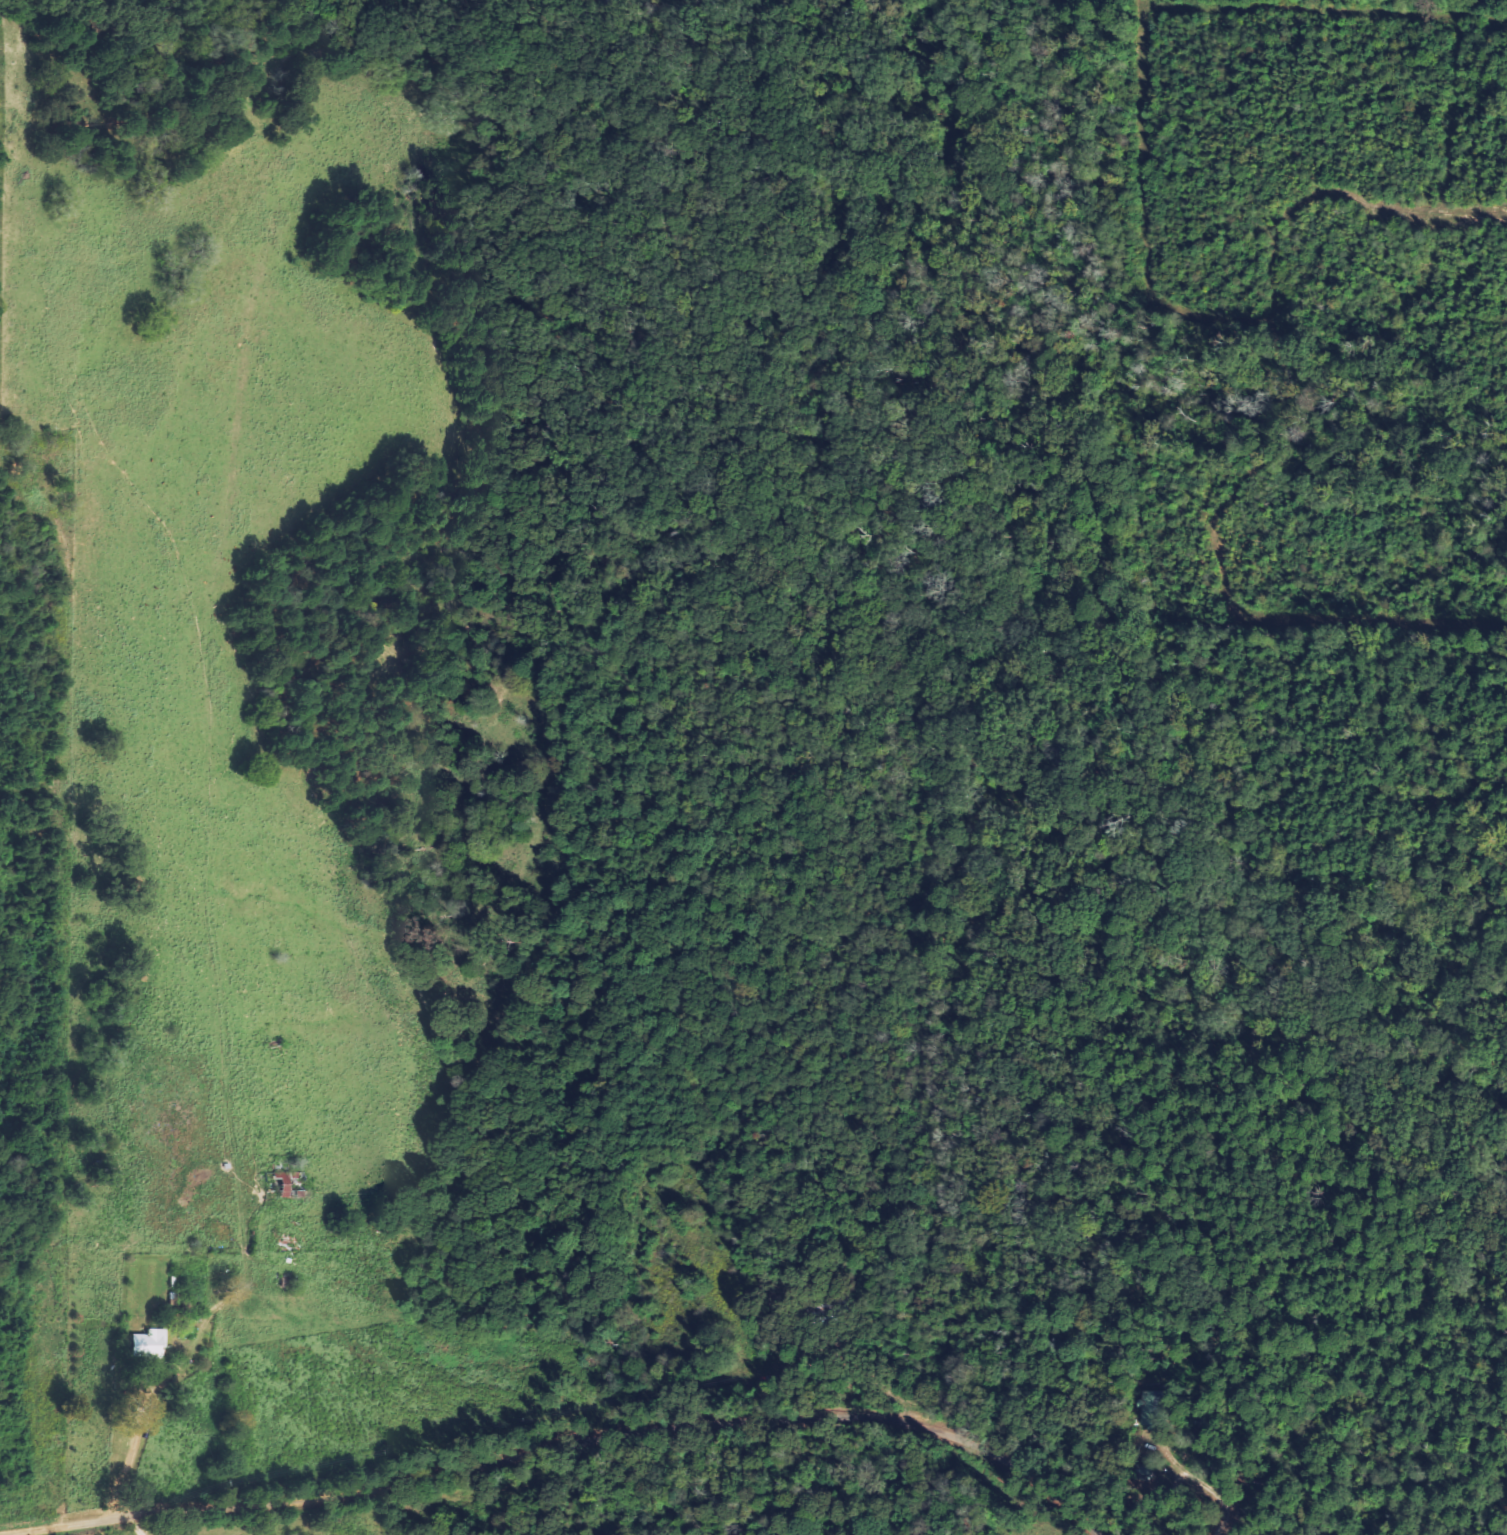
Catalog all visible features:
building: (153, 1344)
building: (1152, 1408)
road: (561, 1444)

